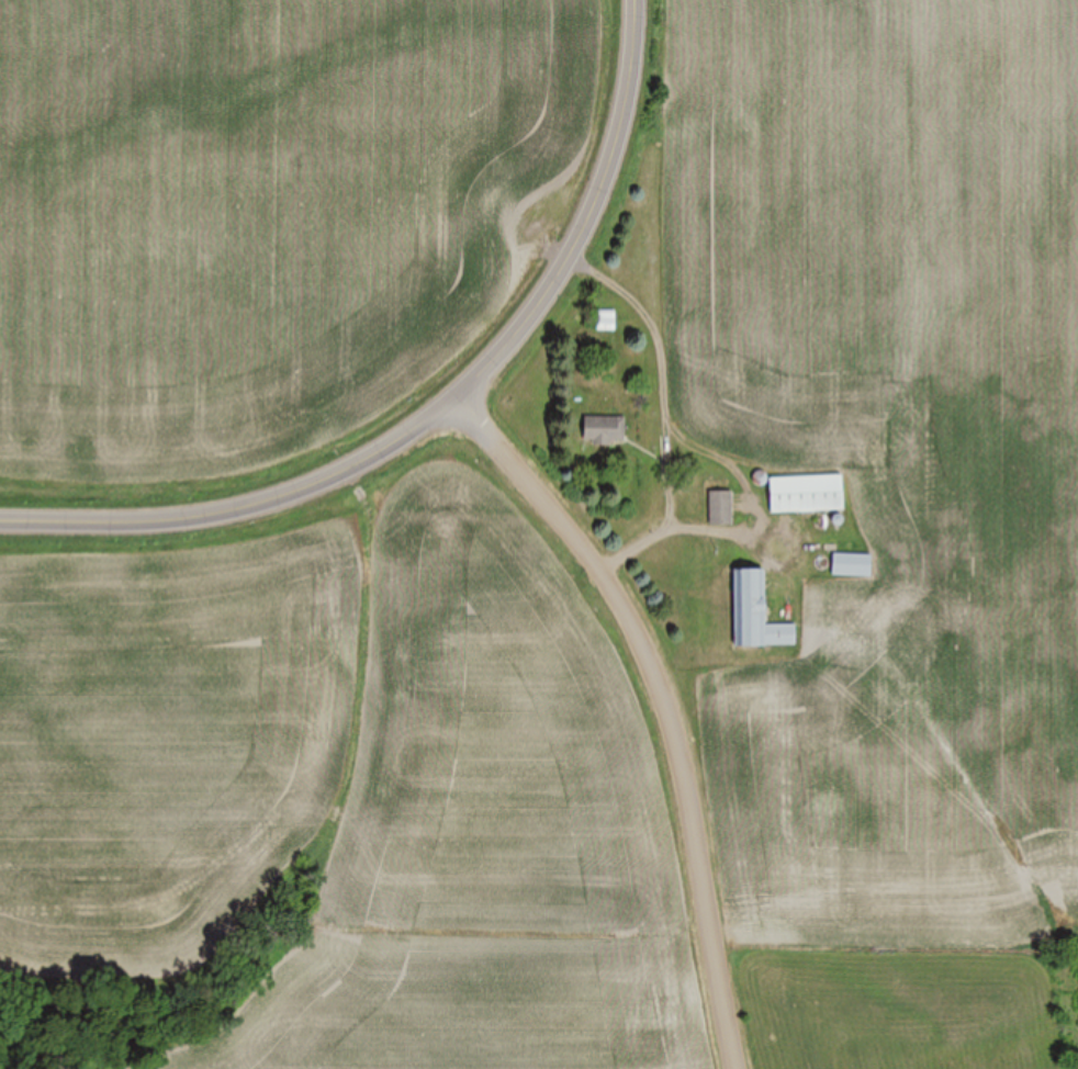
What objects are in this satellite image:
road: (592, 223)
building: (606, 320)
road: (666, 417)
building: (604, 430)
building: (806, 495)
road: (242, 509)
building: (721, 509)
building: (852, 566)
building: (755, 616)
road: (670, 705)

